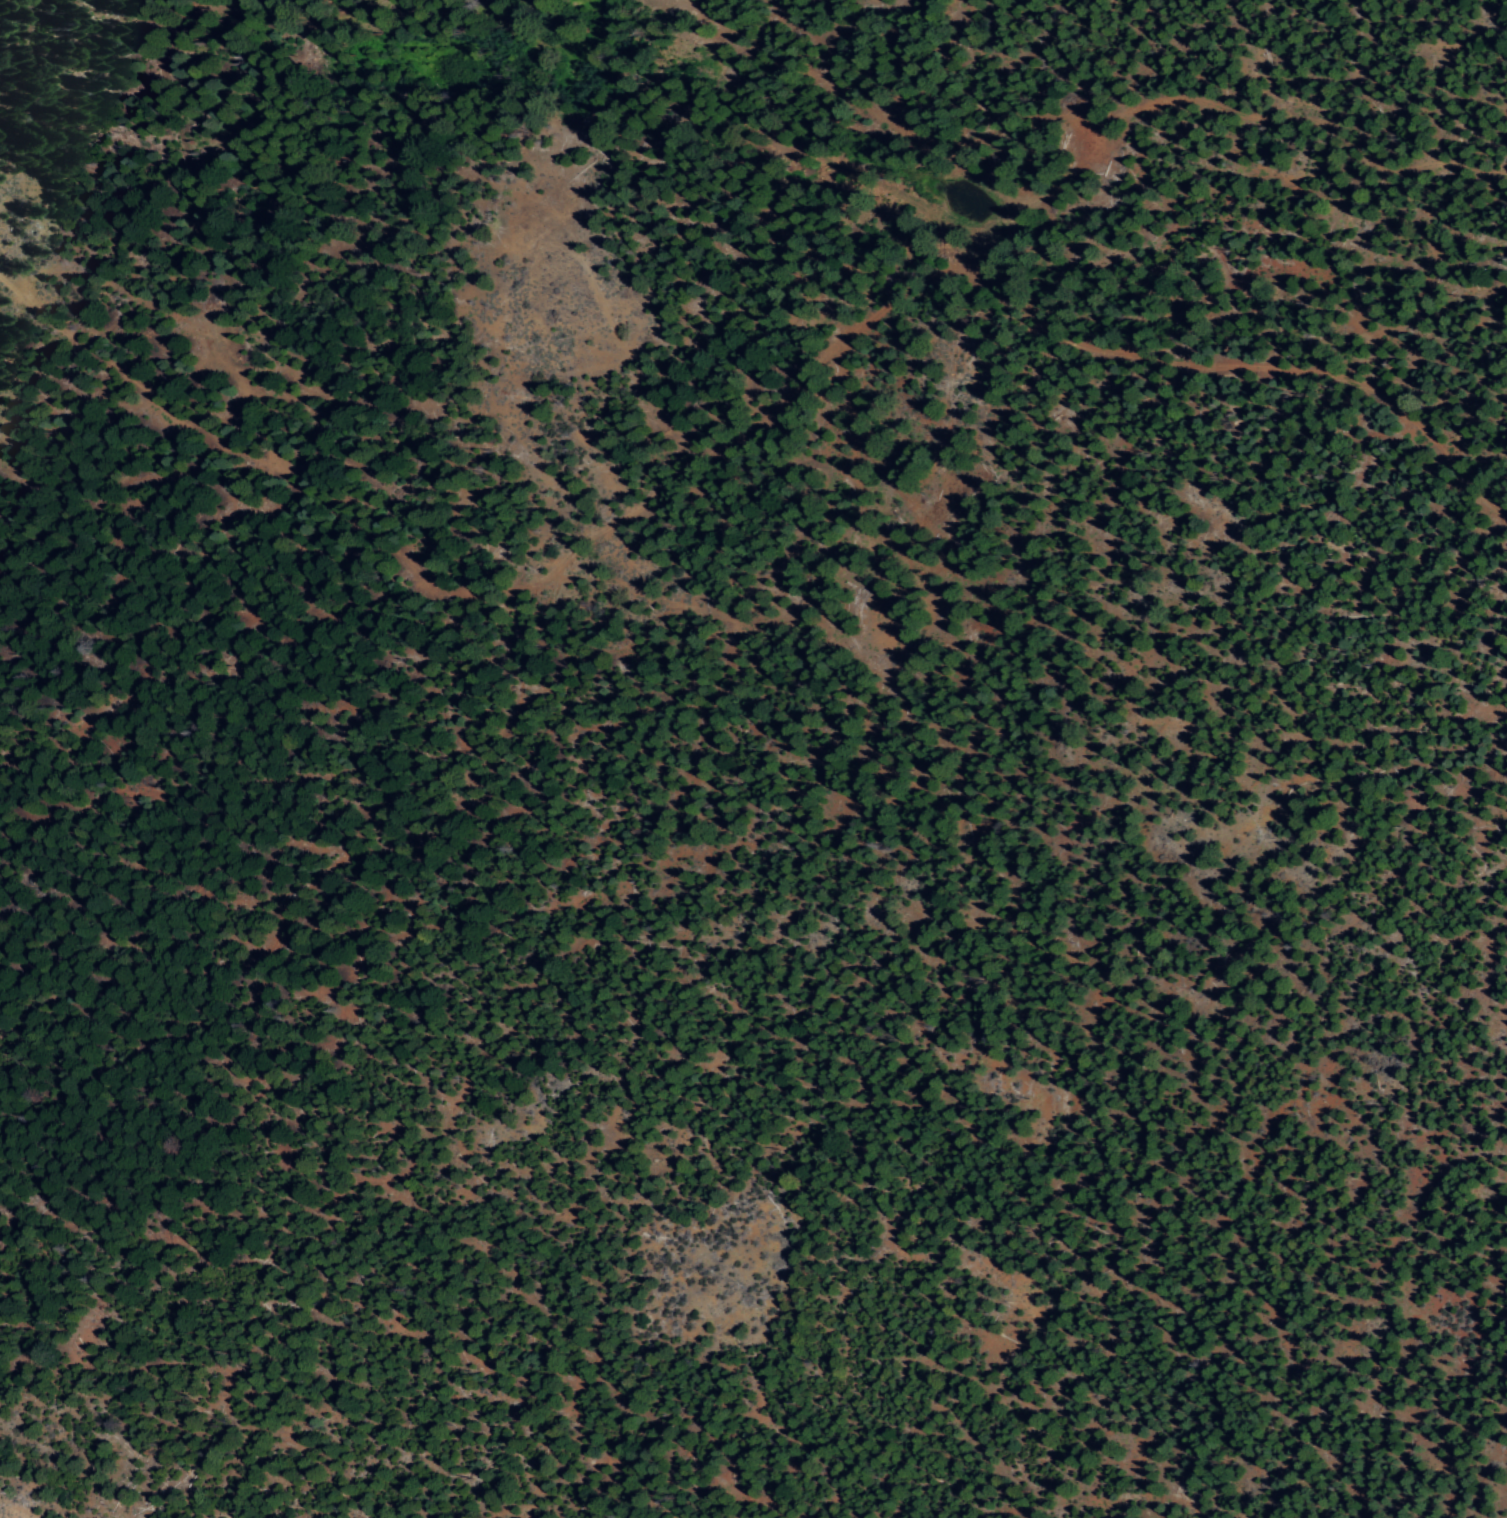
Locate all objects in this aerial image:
road: (802, 445)
road: (1446, 497)

